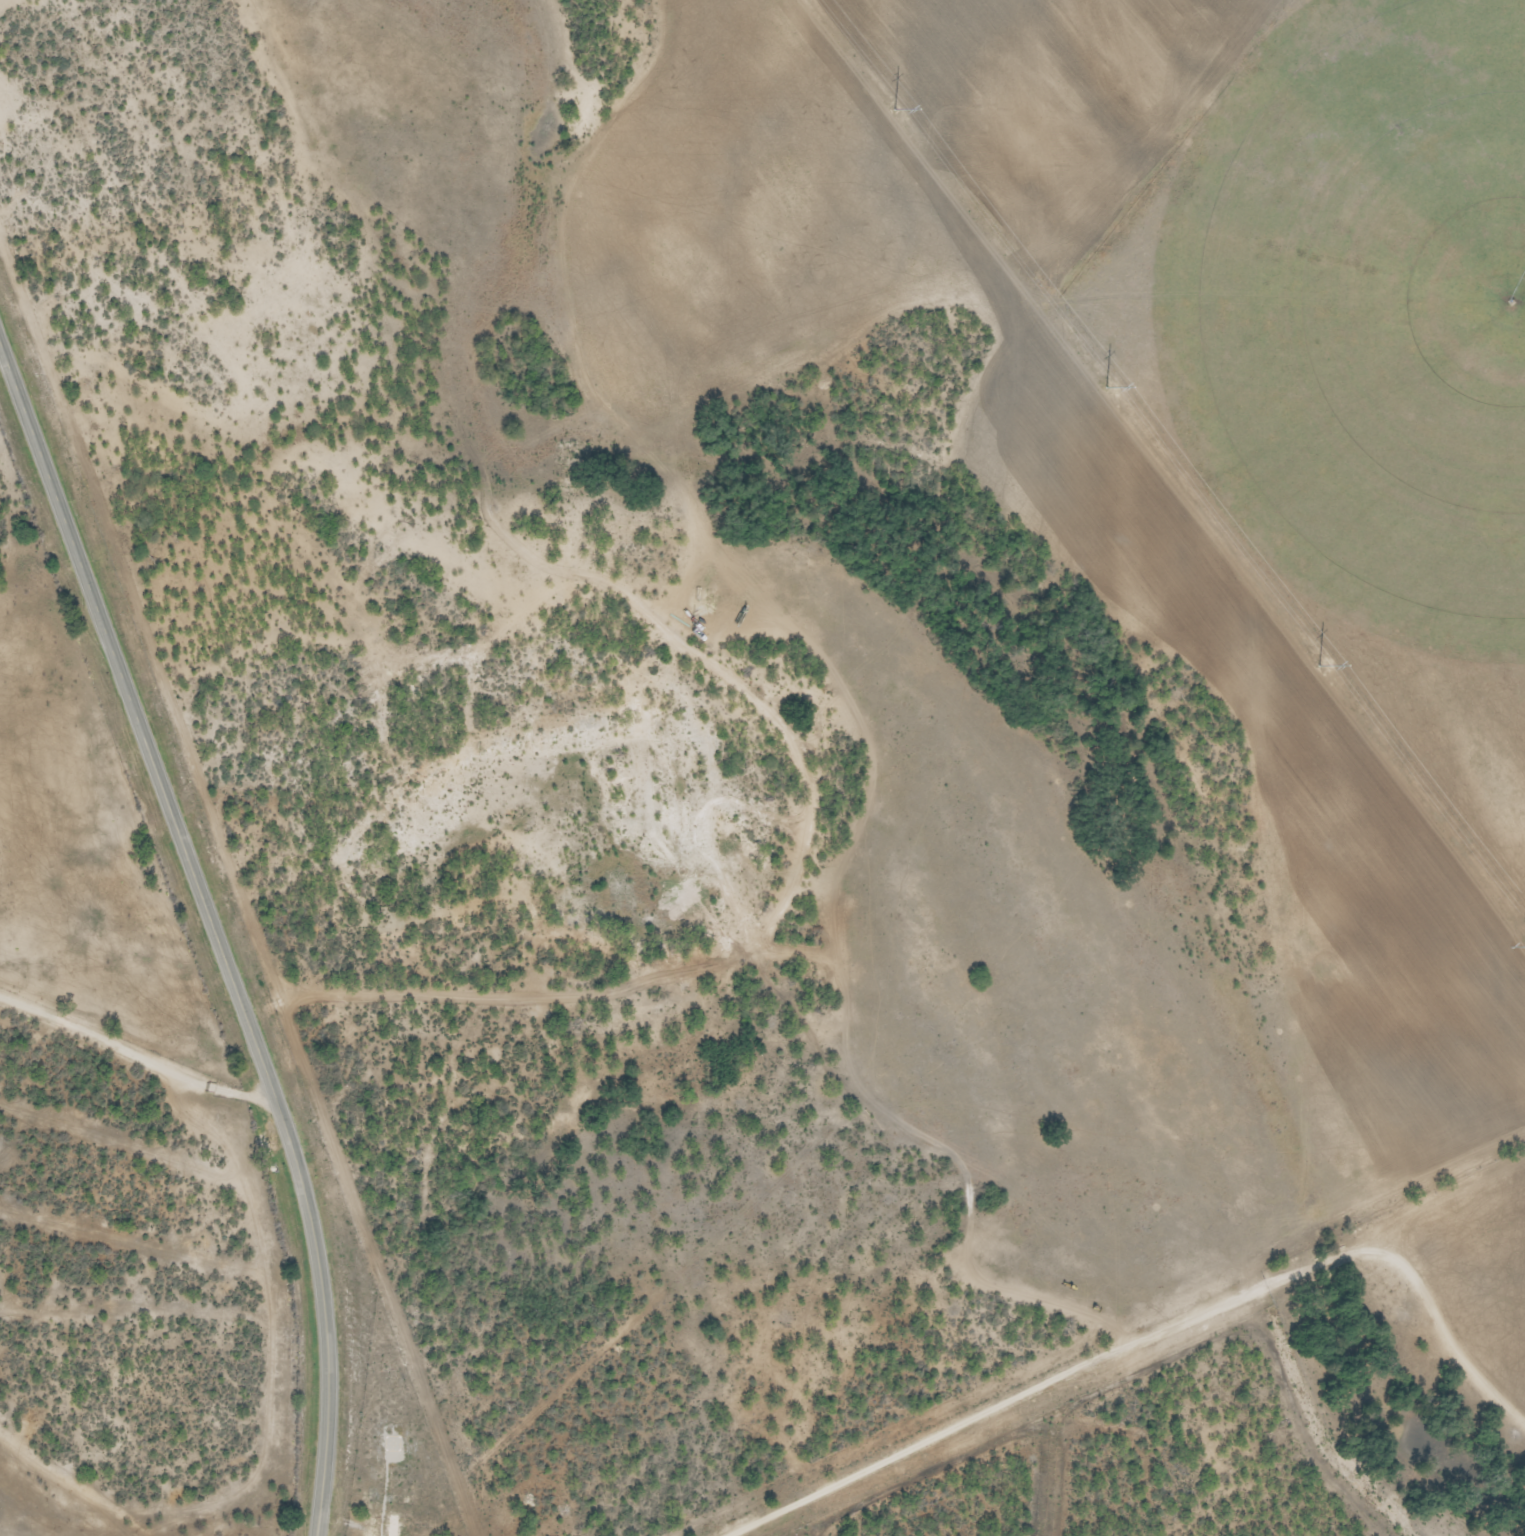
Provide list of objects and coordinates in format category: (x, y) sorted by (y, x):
power tower: (889, 103)
power tower: (1102, 380)
power tower: (1314, 659)
road: (212, 932)
power tower: (1521, 937)
road: (133, 1055)
road: (1157, 1337)

